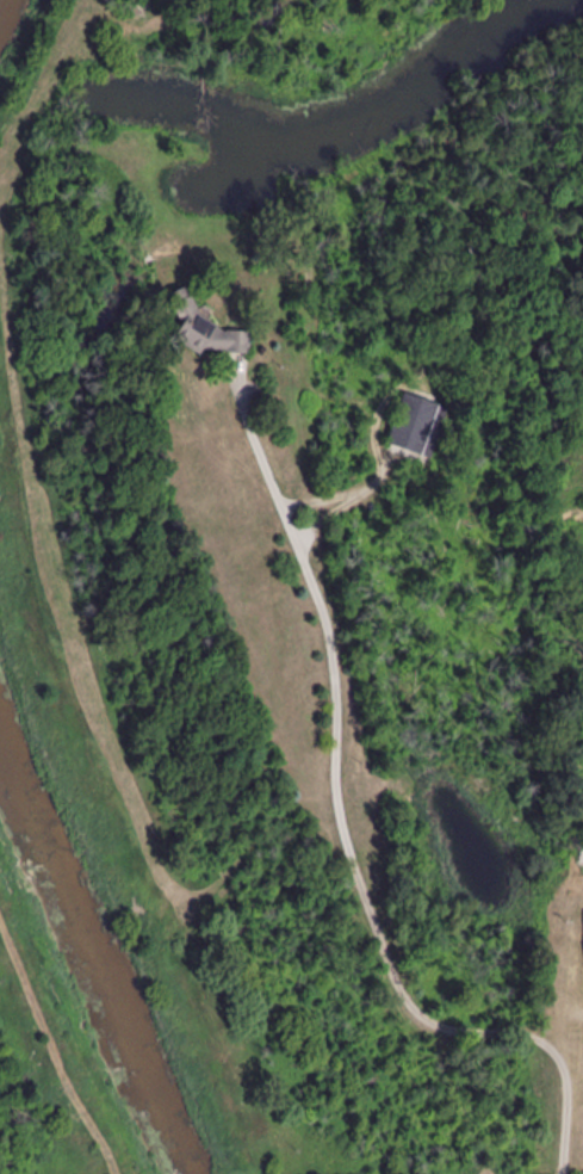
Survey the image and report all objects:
building: (206, 330)
building: (418, 426)
road: (315, 673)
river: (94, 962)

